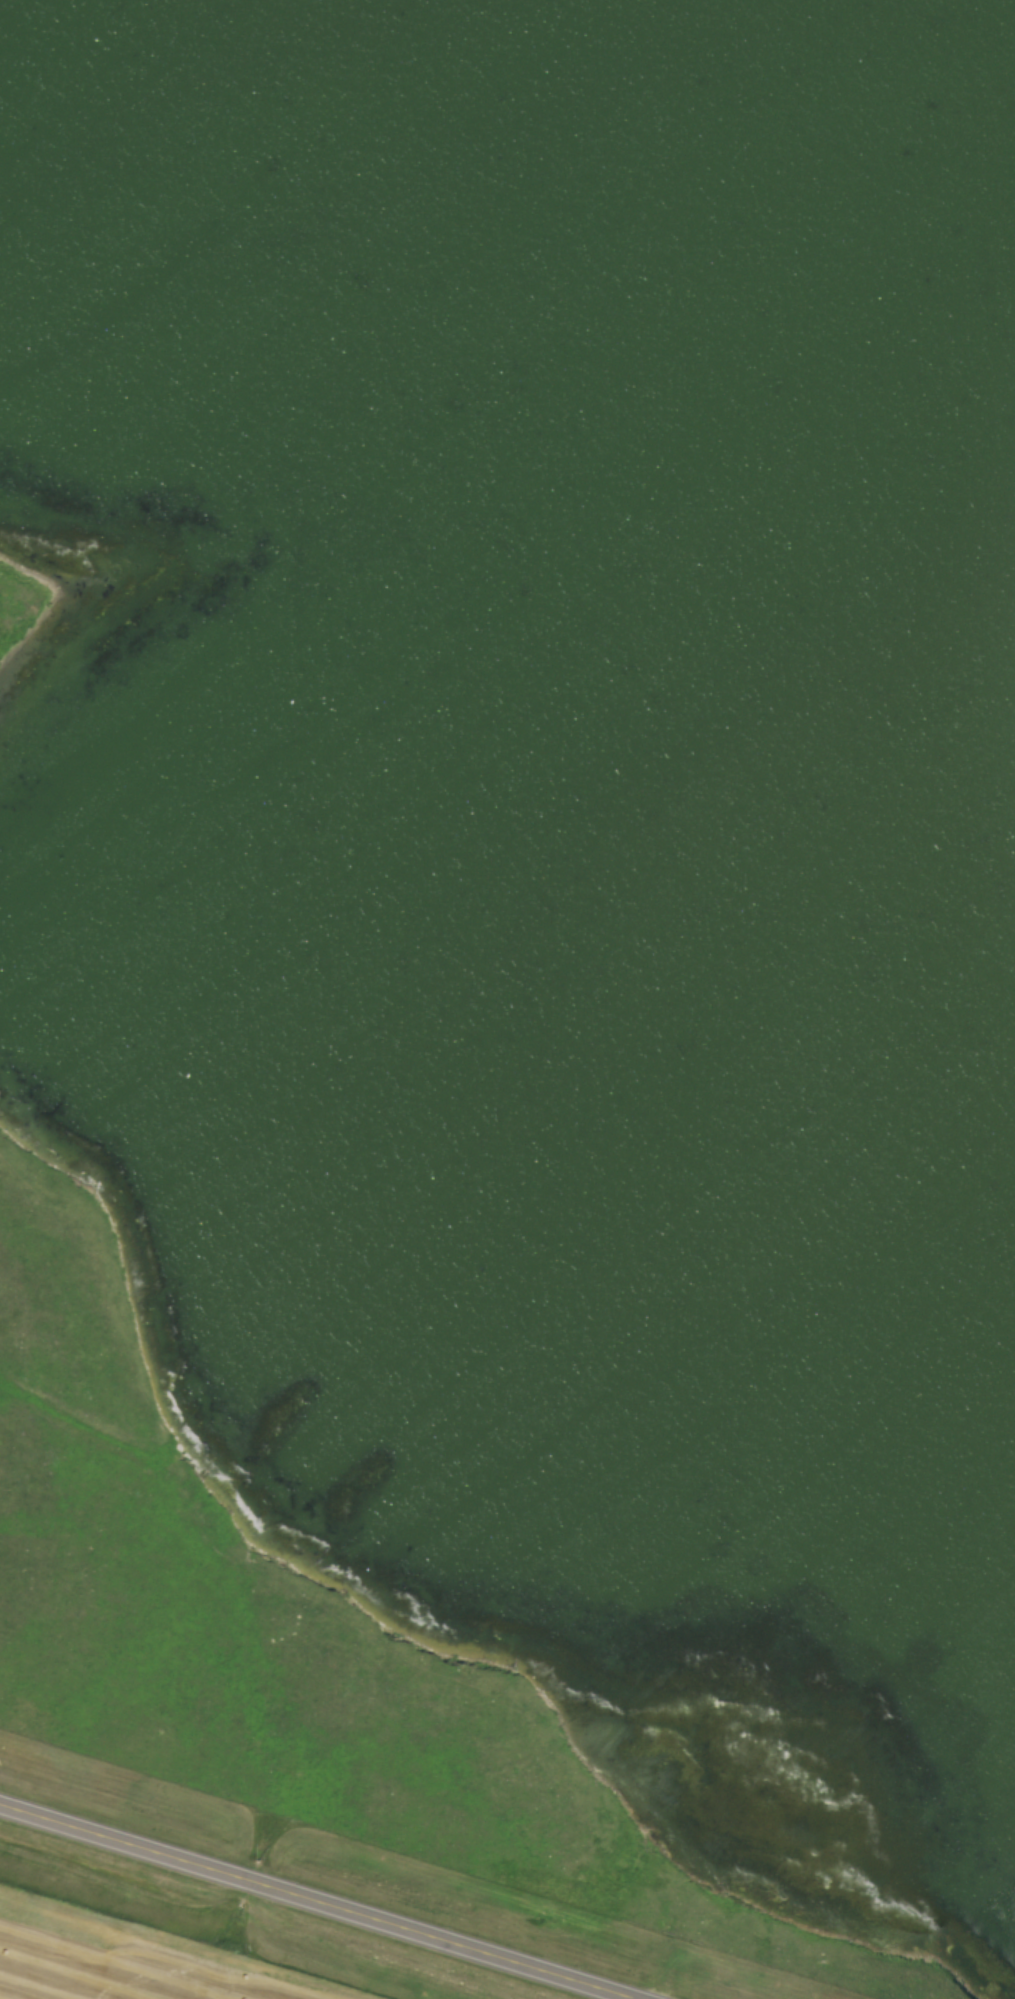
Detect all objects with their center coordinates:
road: (307, 1905)

